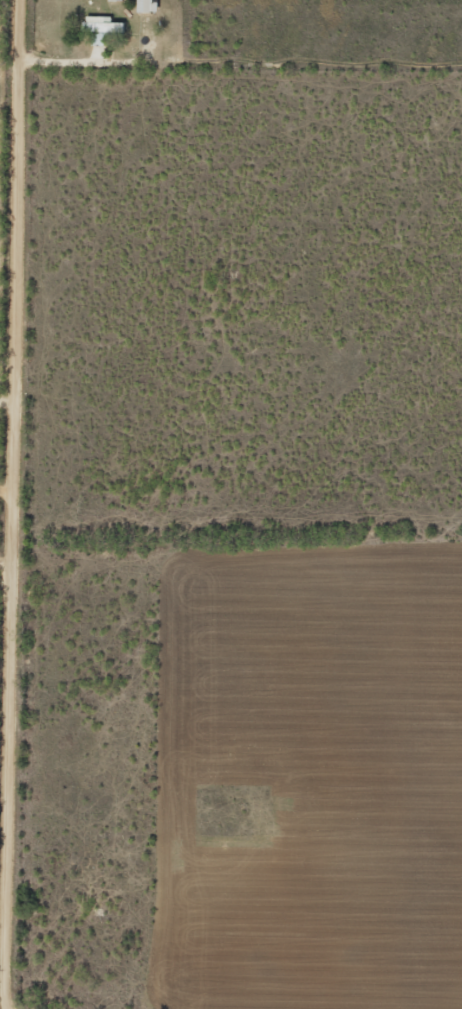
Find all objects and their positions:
building: (145, 6)
building: (98, 25)
road: (39, 510)

